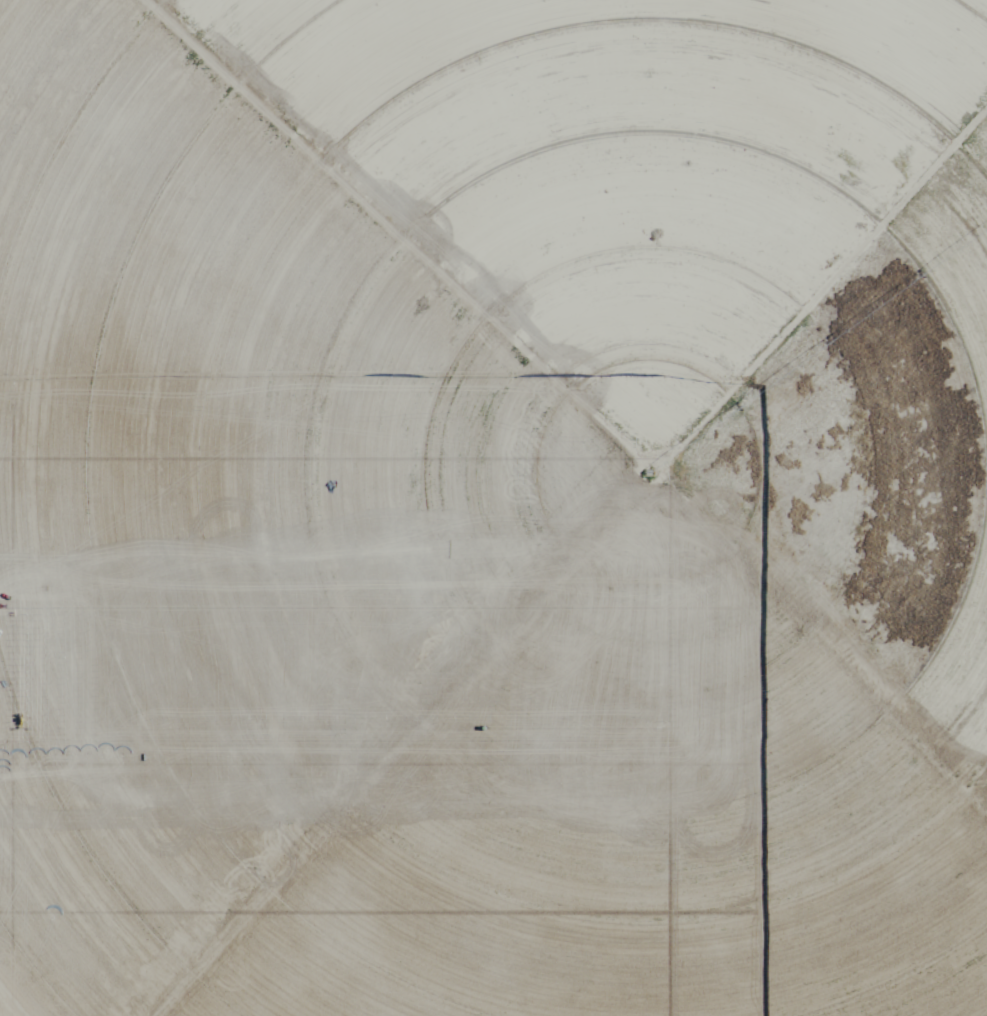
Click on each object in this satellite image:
crop: (494, 507)

